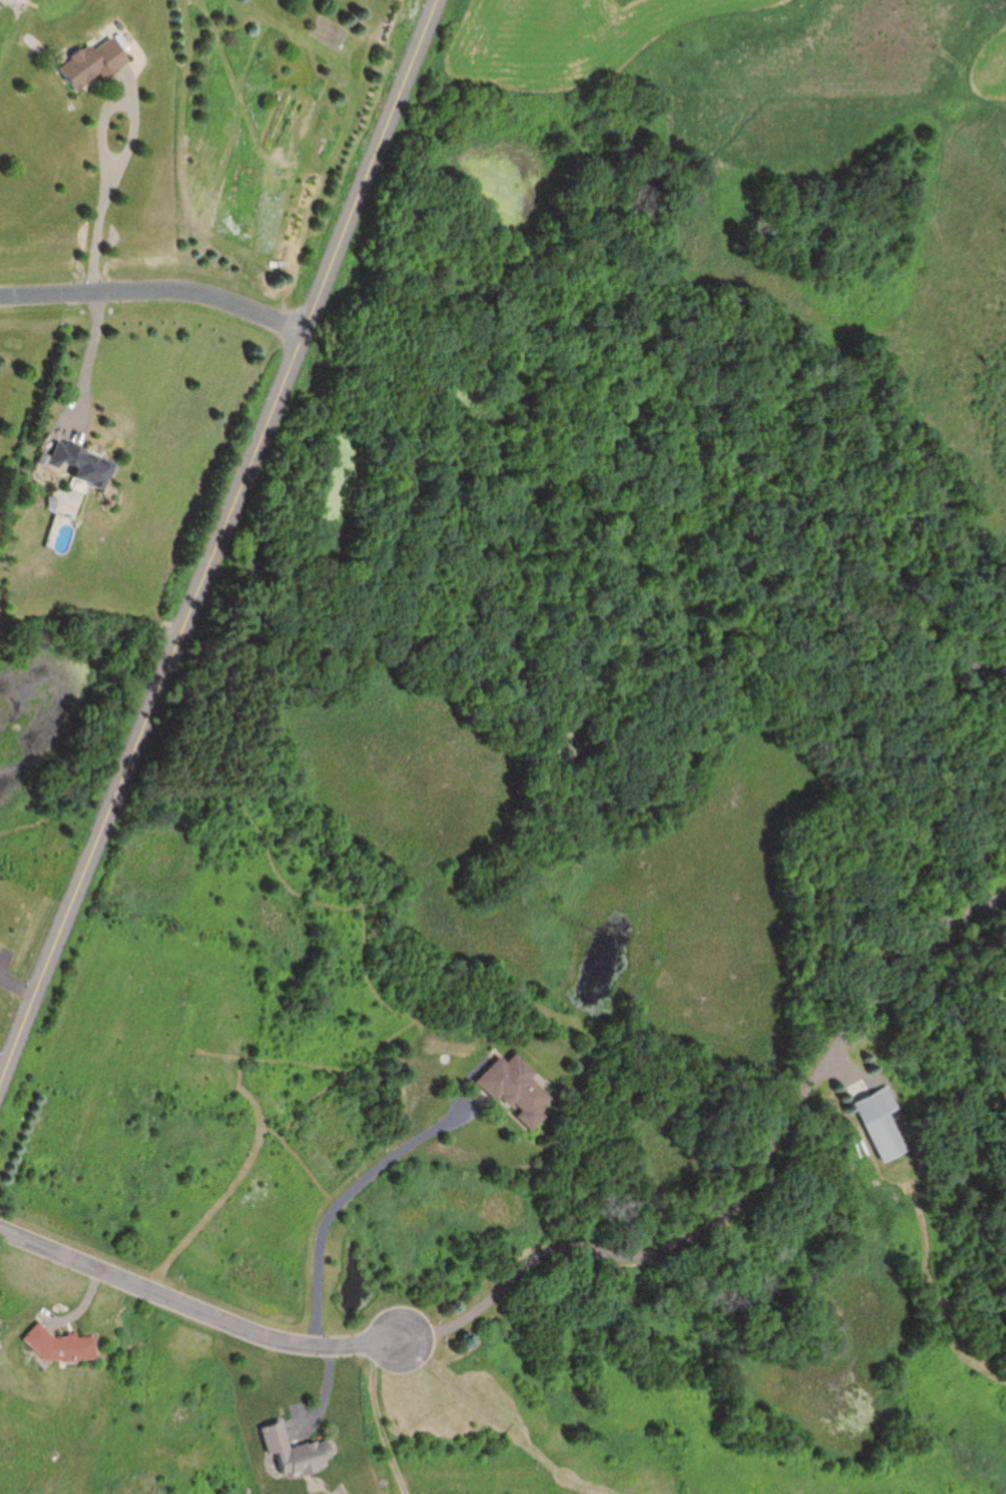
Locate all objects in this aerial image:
building: (96, 61)
road: (105, 194)
road: (158, 291)
road: (90, 354)
building: (83, 462)
road: (223, 543)
building: (517, 1088)
building: (888, 1135)
park: (515, 1155)
road: (747, 1184)
road: (191, 1301)
building: (65, 1346)
building: (294, 1450)

